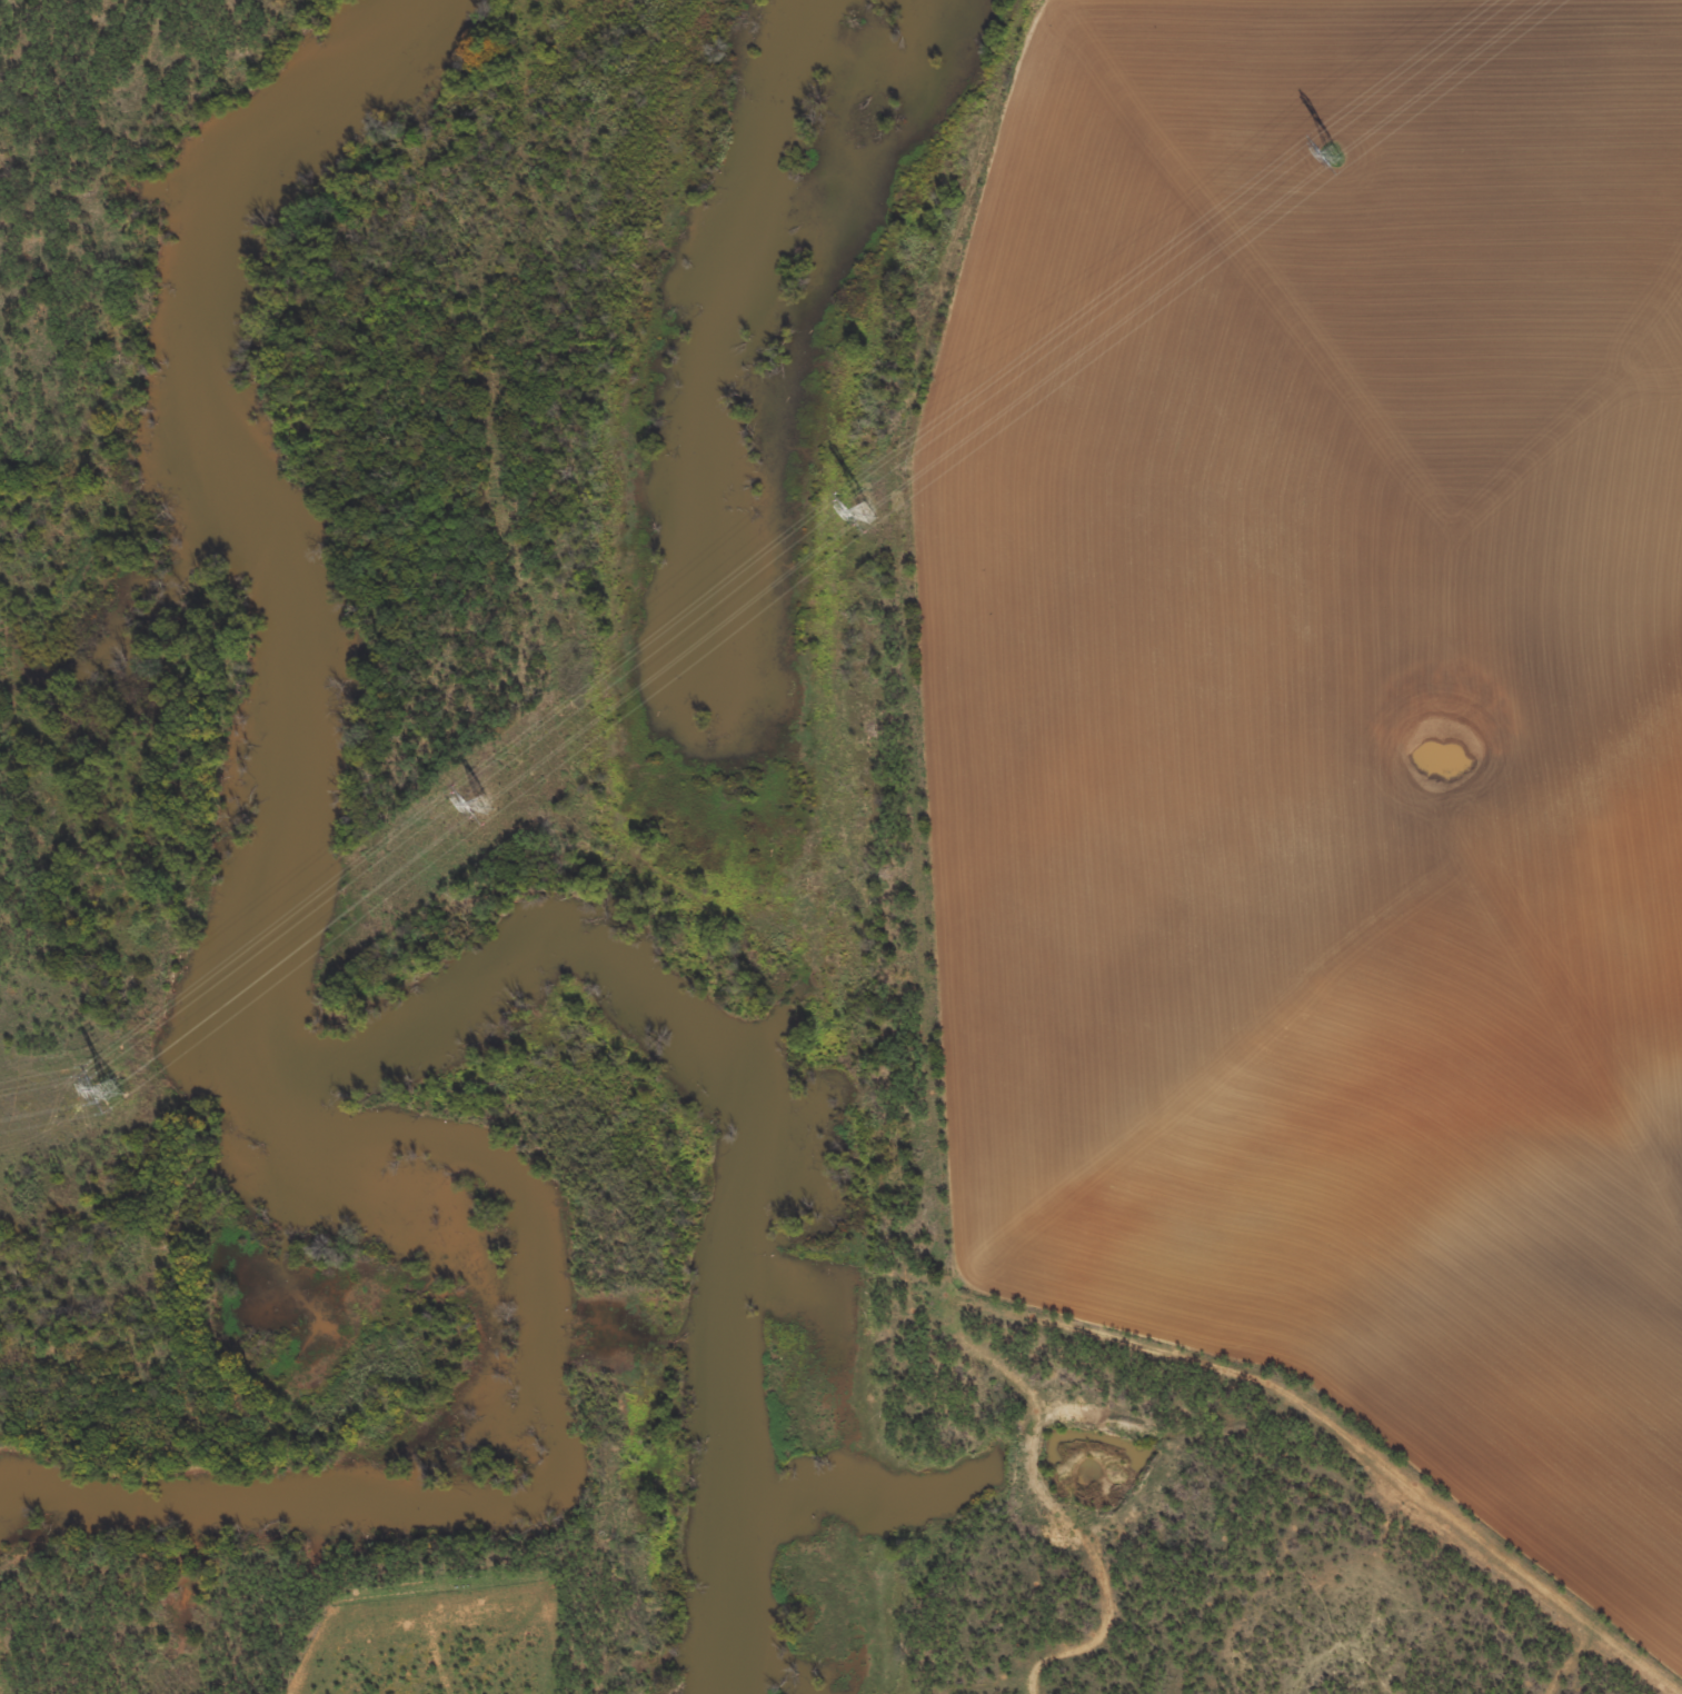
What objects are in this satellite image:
power tower: (1335, 150)
power tower: (870, 515)
power tower: (485, 801)
power tower: (110, 1090)

